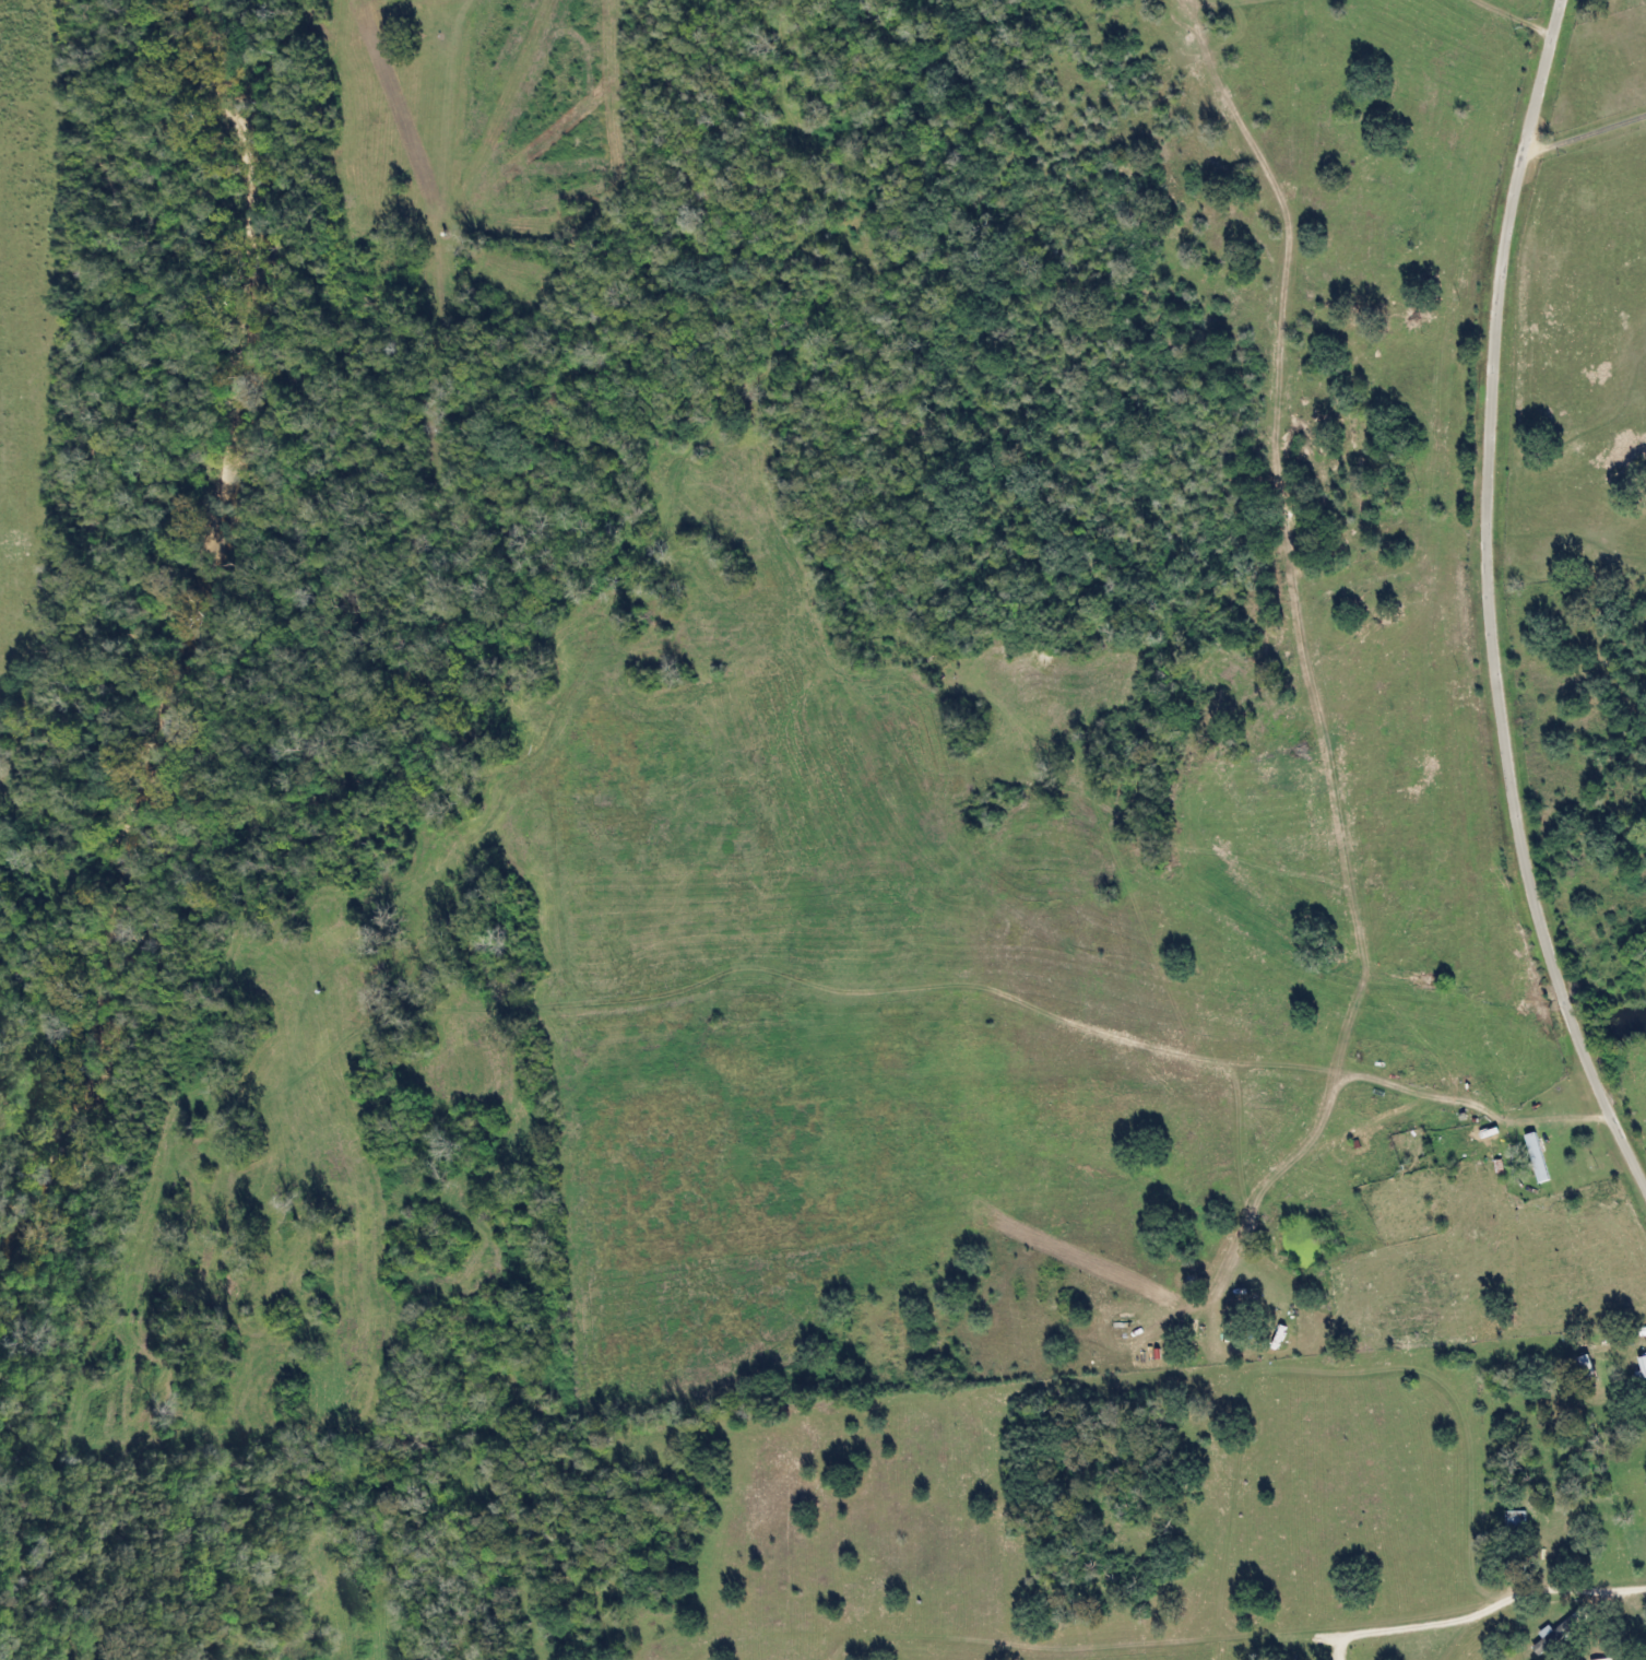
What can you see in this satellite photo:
road: (1495, 596)
building: (1532, 1156)
building: (1641, 1365)
building: (1509, 1522)
building: (1556, 1632)
building: (1594, 1659)

